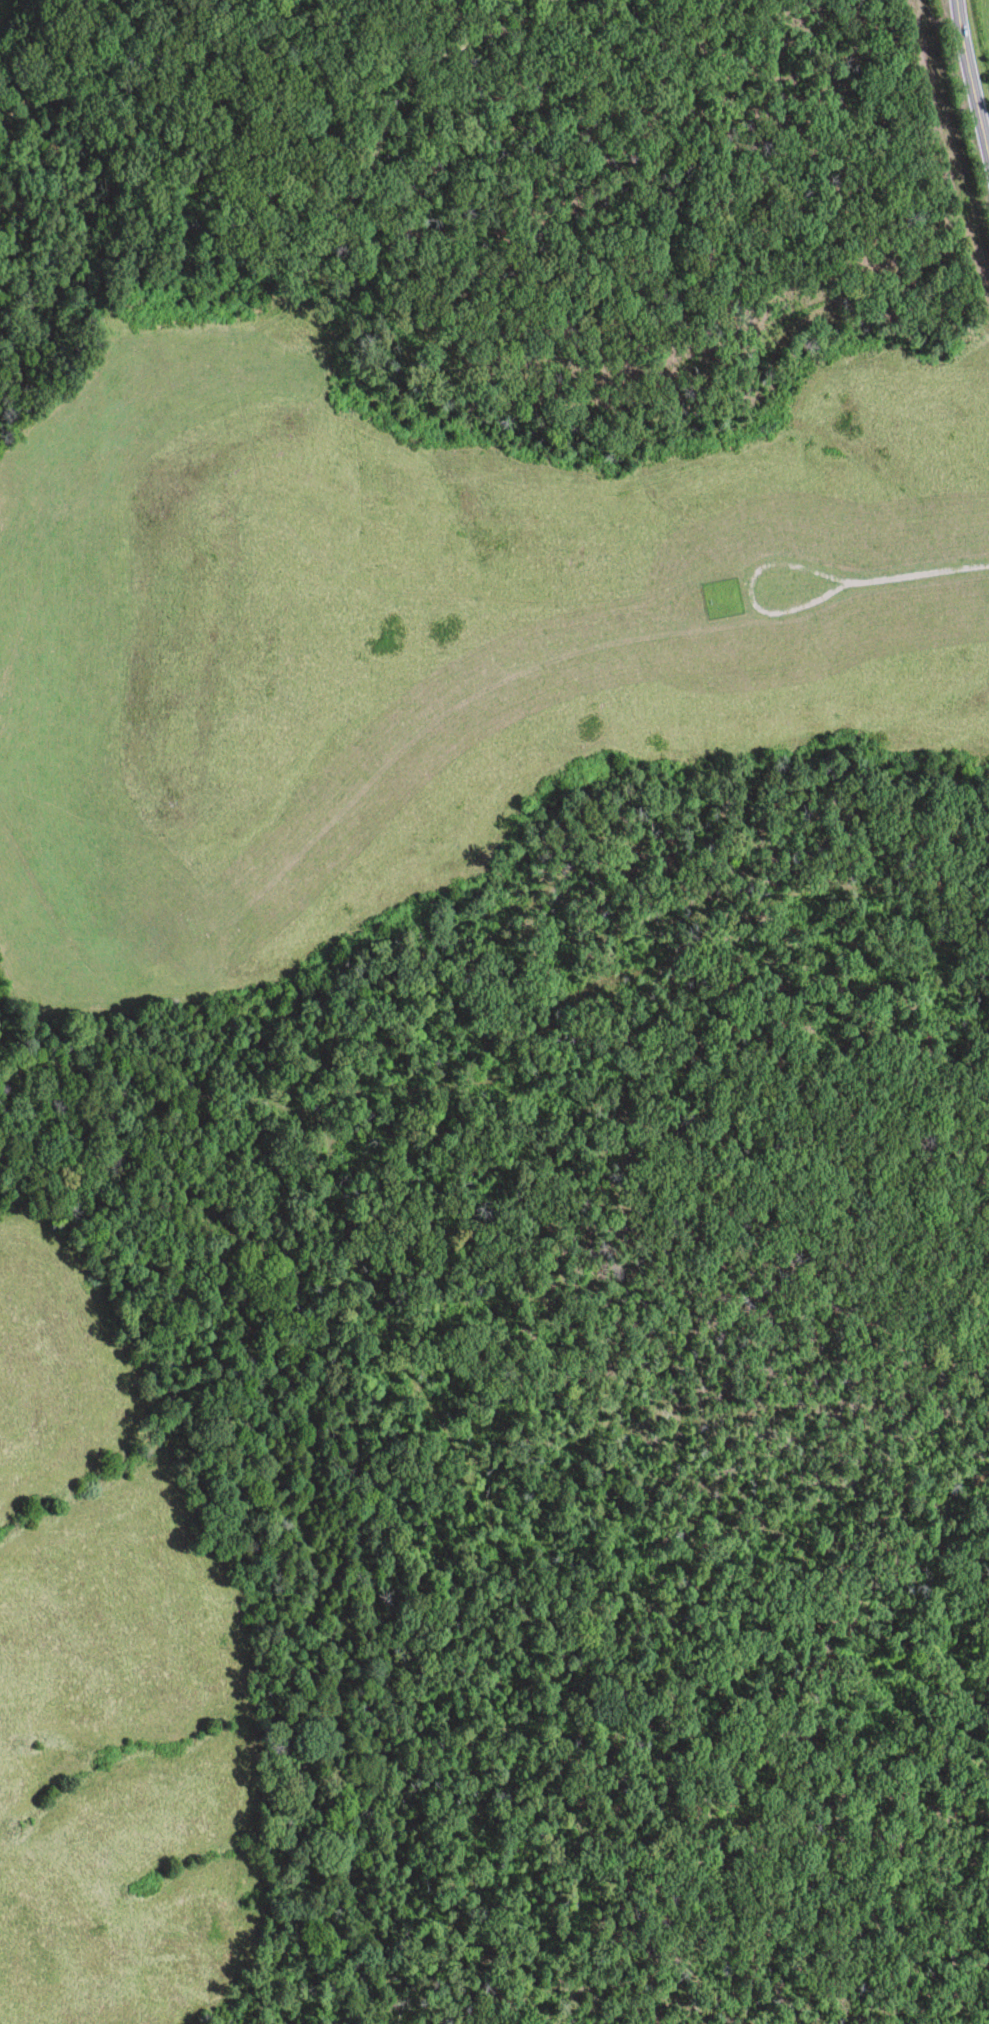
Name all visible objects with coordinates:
road: (973, 76)

